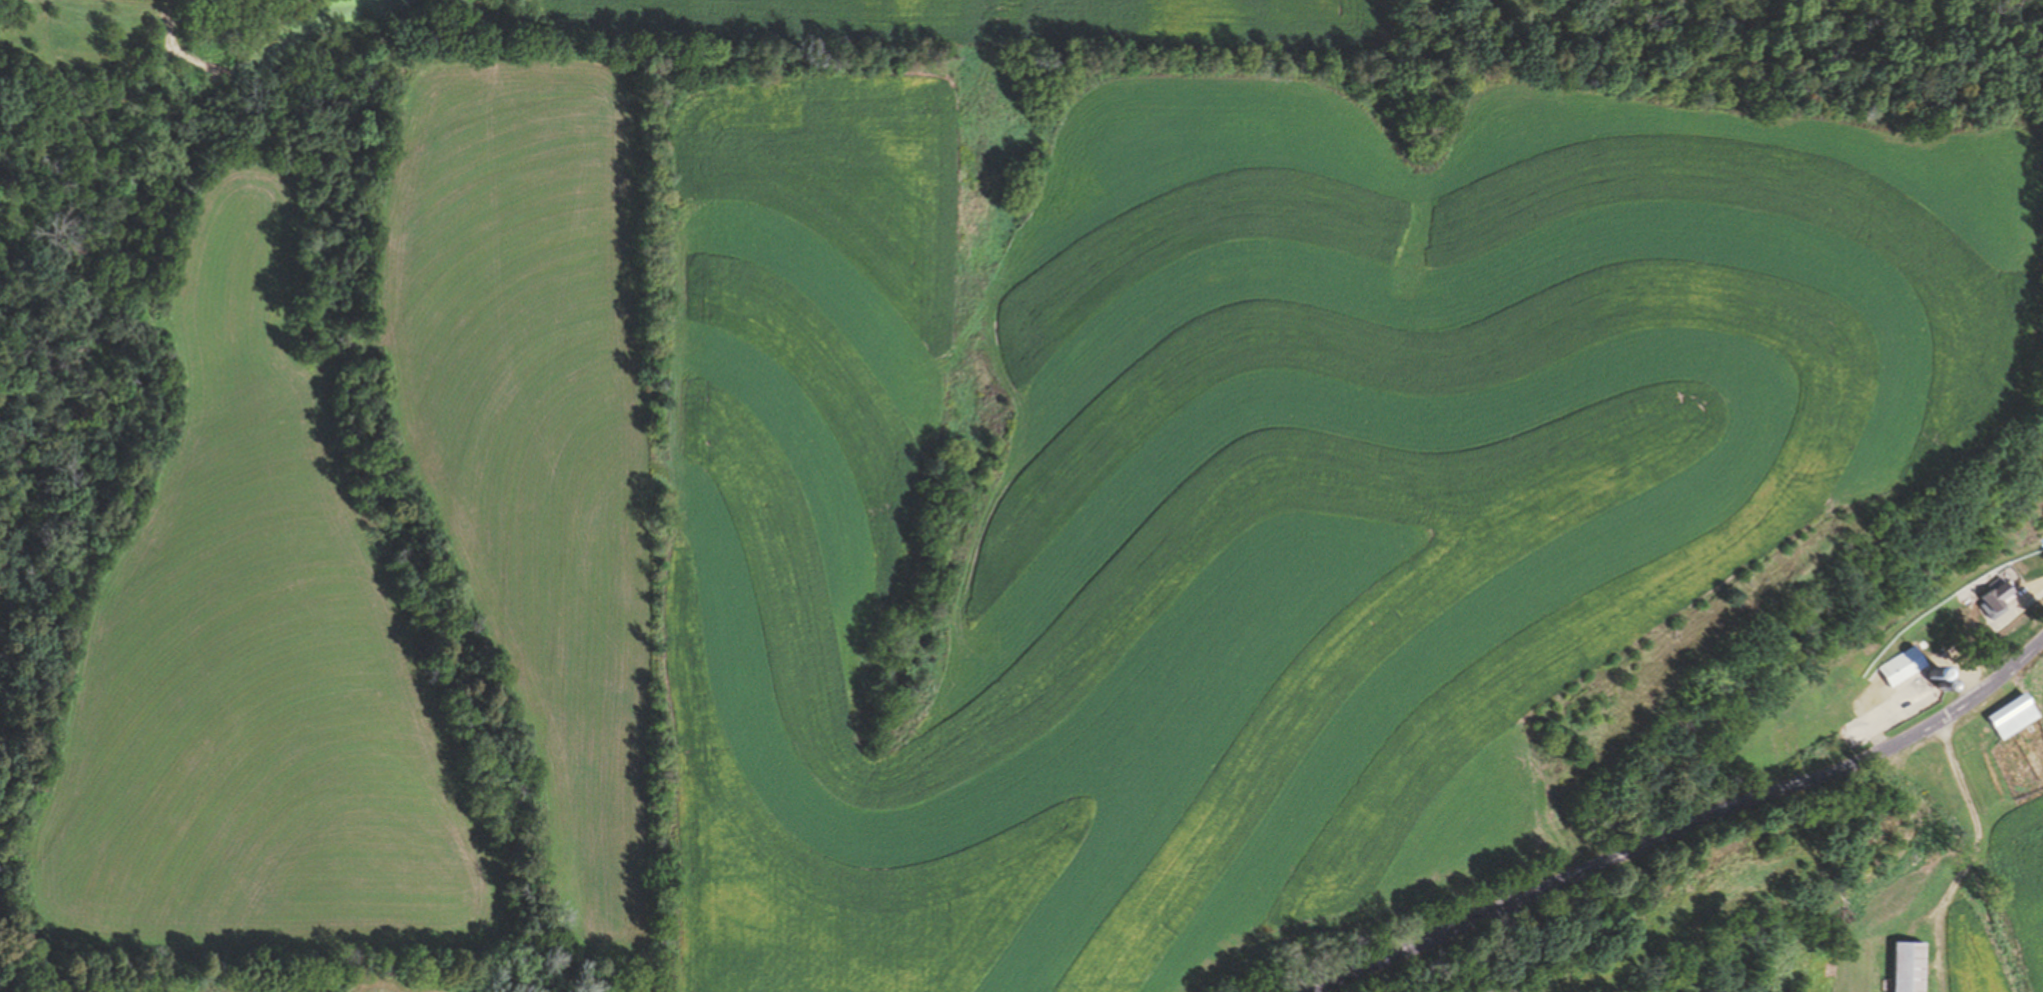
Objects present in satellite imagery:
building: (1997, 597)
building: (1875, 685)
building: (2016, 714)
building: (1763, 728)
building: (1923, 763)
road: (1681, 827)
road: (1973, 855)
building: (1912, 966)

